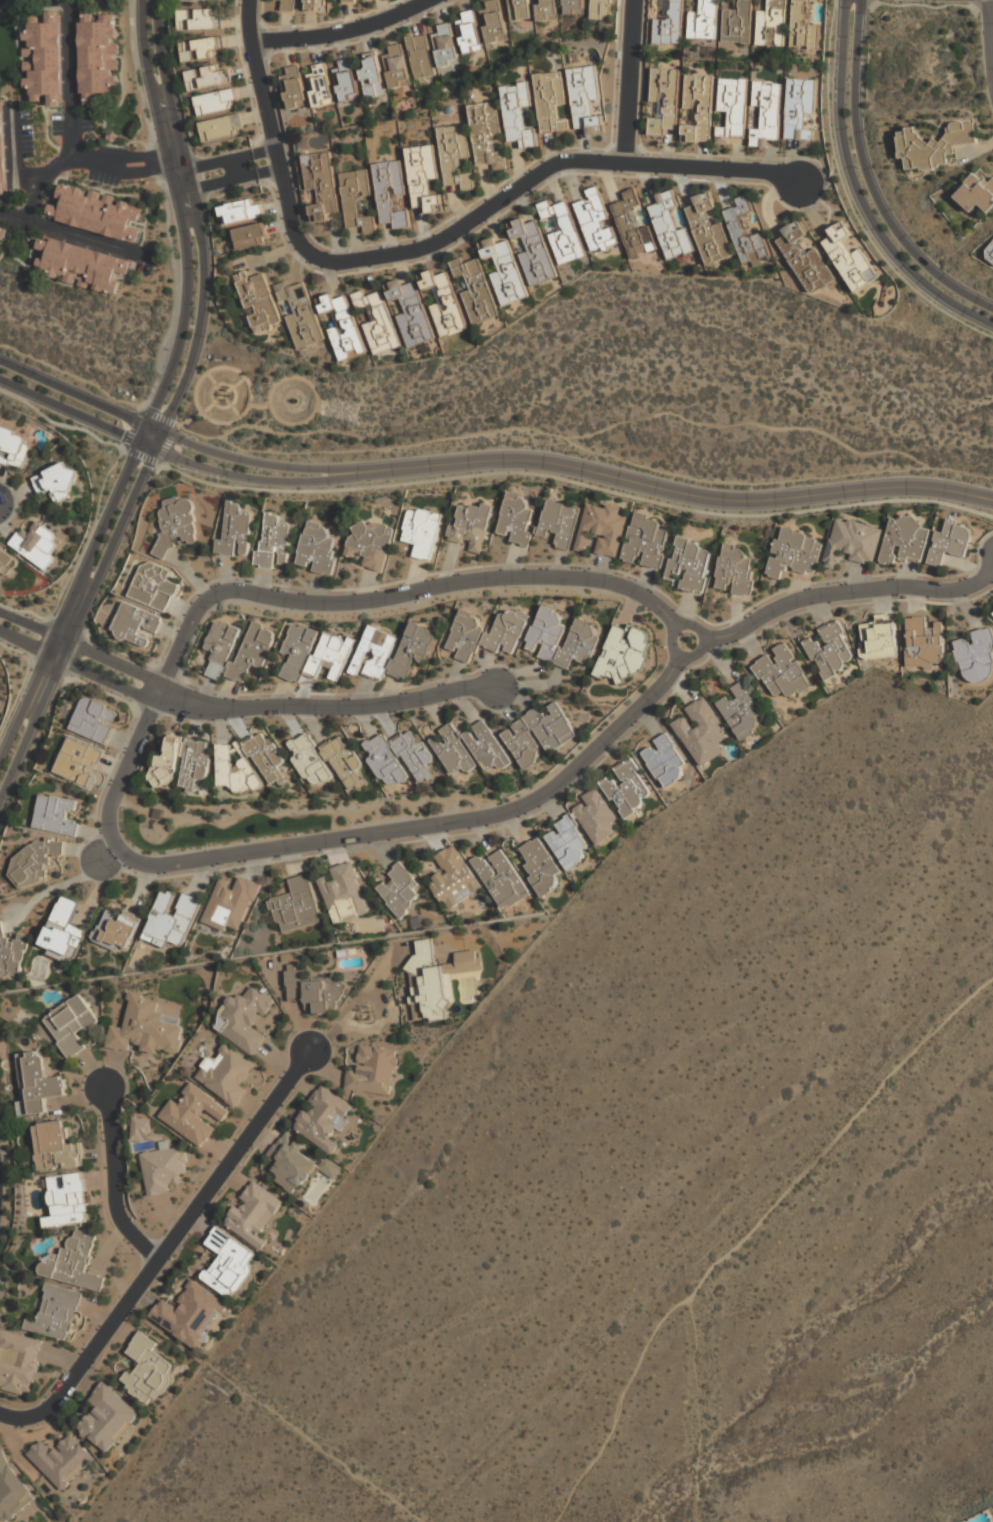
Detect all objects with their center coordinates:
building: (207, 0)
building: (344, 1)
road: (866, 2)
building: (289, 5)
building: (316, 5)
road: (928, 5)
building: (575, 7)
building: (520, 10)
building: (549, 10)
building: (603, 10)
building: (198, 20)
building: (494, 21)
building: (704, 21)
building: (737, 22)
building: (670, 24)
building: (772, 24)
building: (803, 26)
road: (988, 30)
road: (341, 32)
building: (470, 32)
building: (446, 45)
building: (201, 49)
building: (97, 56)
building: (421, 56)
building: (43, 60)
building: (397, 66)
building: (207, 77)
building: (372, 78)
road: (72, 81)
building: (347, 81)
road: (626, 82)
building: (320, 85)
building: (294, 88)
building: (586, 99)
building: (665, 100)
building: (216, 102)
building: (552, 104)
building: (698, 108)
building: (732, 110)
building: (799, 112)
building: (518, 113)
building: (766, 114)
road: (266, 121)
building: (810, 121)
building: (221, 126)
building: (486, 134)
building: (934, 146)
building: (3, 150)
road: (15, 151)
road: (262, 154)
road: (139, 155)
building: (455, 156)
road: (211, 164)
road: (140, 172)
road: (267, 172)
road: (48, 173)
road: (534, 177)
building: (423, 179)
road: (868, 181)
road: (216, 183)
building: (322, 184)
road: (857, 192)
building: (391, 193)
building: (976, 194)
building: (357, 200)
road: (848, 200)
road: (165, 205)
building: (241, 211)
building: (94, 212)
building: (596, 222)
road: (182, 223)
building: (633, 225)
building: (671, 225)
road: (197, 226)
building: (709, 229)
building: (3, 230)
building: (562, 230)
building: (746, 234)
road: (75, 236)
building: (251, 236)
building: (533, 251)
building: (990, 254)
building: (805, 259)
building: (849, 259)
building: (80, 265)
building: (505, 271)
building: (475, 290)
building: (258, 301)
building: (444, 304)
building: (410, 312)
building: (300, 316)
building: (377, 321)
building: (343, 327)
road: (73, 393)
road: (70, 410)
building: (13, 448)
road: (158, 459)
road: (239, 459)
road: (235, 475)
road: (574, 481)
building: (56, 483)
road: (663, 488)
road: (103, 490)
building: (516, 519)
building: (176, 522)
building: (560, 523)
building: (470, 526)
building: (603, 529)
building: (233, 531)
building: (422, 532)
building: (905, 540)
building: (273, 541)
building: (646, 541)
building: (852, 542)
building: (950, 543)
building: (36, 544)
building: (372, 544)
building: (316, 548)
building: (793, 553)
building: (5, 563)
building: (689, 564)
building: (735, 570)
building: (153, 586)
road: (848, 592)
road: (395, 596)
road: (69, 602)
building: (992, 612)
road: (76, 621)
road: (27, 625)
building: (136, 625)
building: (486, 633)
building: (880, 637)
building: (561, 639)
road: (23, 641)
building: (923, 643)
building: (220, 647)
building: (253, 649)
road: (673, 650)
building: (830, 650)
building: (392, 651)
building: (626, 652)
building: (315, 653)
building: (976, 656)
road: (109, 660)
building: (781, 672)
road: (102, 678)
road: (329, 708)
building: (741, 710)
building: (95, 720)
building: (701, 732)
building: (538, 735)
building: (469, 749)
building: (265, 756)
building: (399, 758)
building: (309, 760)
building: (664, 760)
building: (78, 761)
building: (344, 762)
building: (181, 763)
building: (233, 771)
building: (627, 788)
building: (56, 815)
building: (582, 830)
road: (339, 841)
building: (35, 859)
building: (540, 866)
building: (453, 879)
building: (501, 880)
building: (399, 891)
building: (344, 893)
building: (231, 903)
building: (296, 906)
building: (172, 917)
building: (117, 928)
building: (63, 931)
building: (12, 953)
building: (435, 980)
building: (314, 993)
building: (246, 1020)
building: (70, 1025)
building: (145, 1029)
building: (373, 1071)
building: (228, 1075)
building: (39, 1083)
building: (193, 1115)
building: (324, 1119)
building: (140, 1128)
building: (56, 1147)
building: (295, 1164)
building: (164, 1168)
road: (114, 1177)
building: (67, 1200)
building: (253, 1215)
road: (750, 1230)
road: (163, 1250)
building: (228, 1262)
building: (73, 1263)
building: (56, 1313)
building: (190, 1314)
building: (18, 1363)
building: (147, 1371)
road: (696, 1411)
building: (108, 1419)
building: (61, 1461)
building: (12, 1491)

